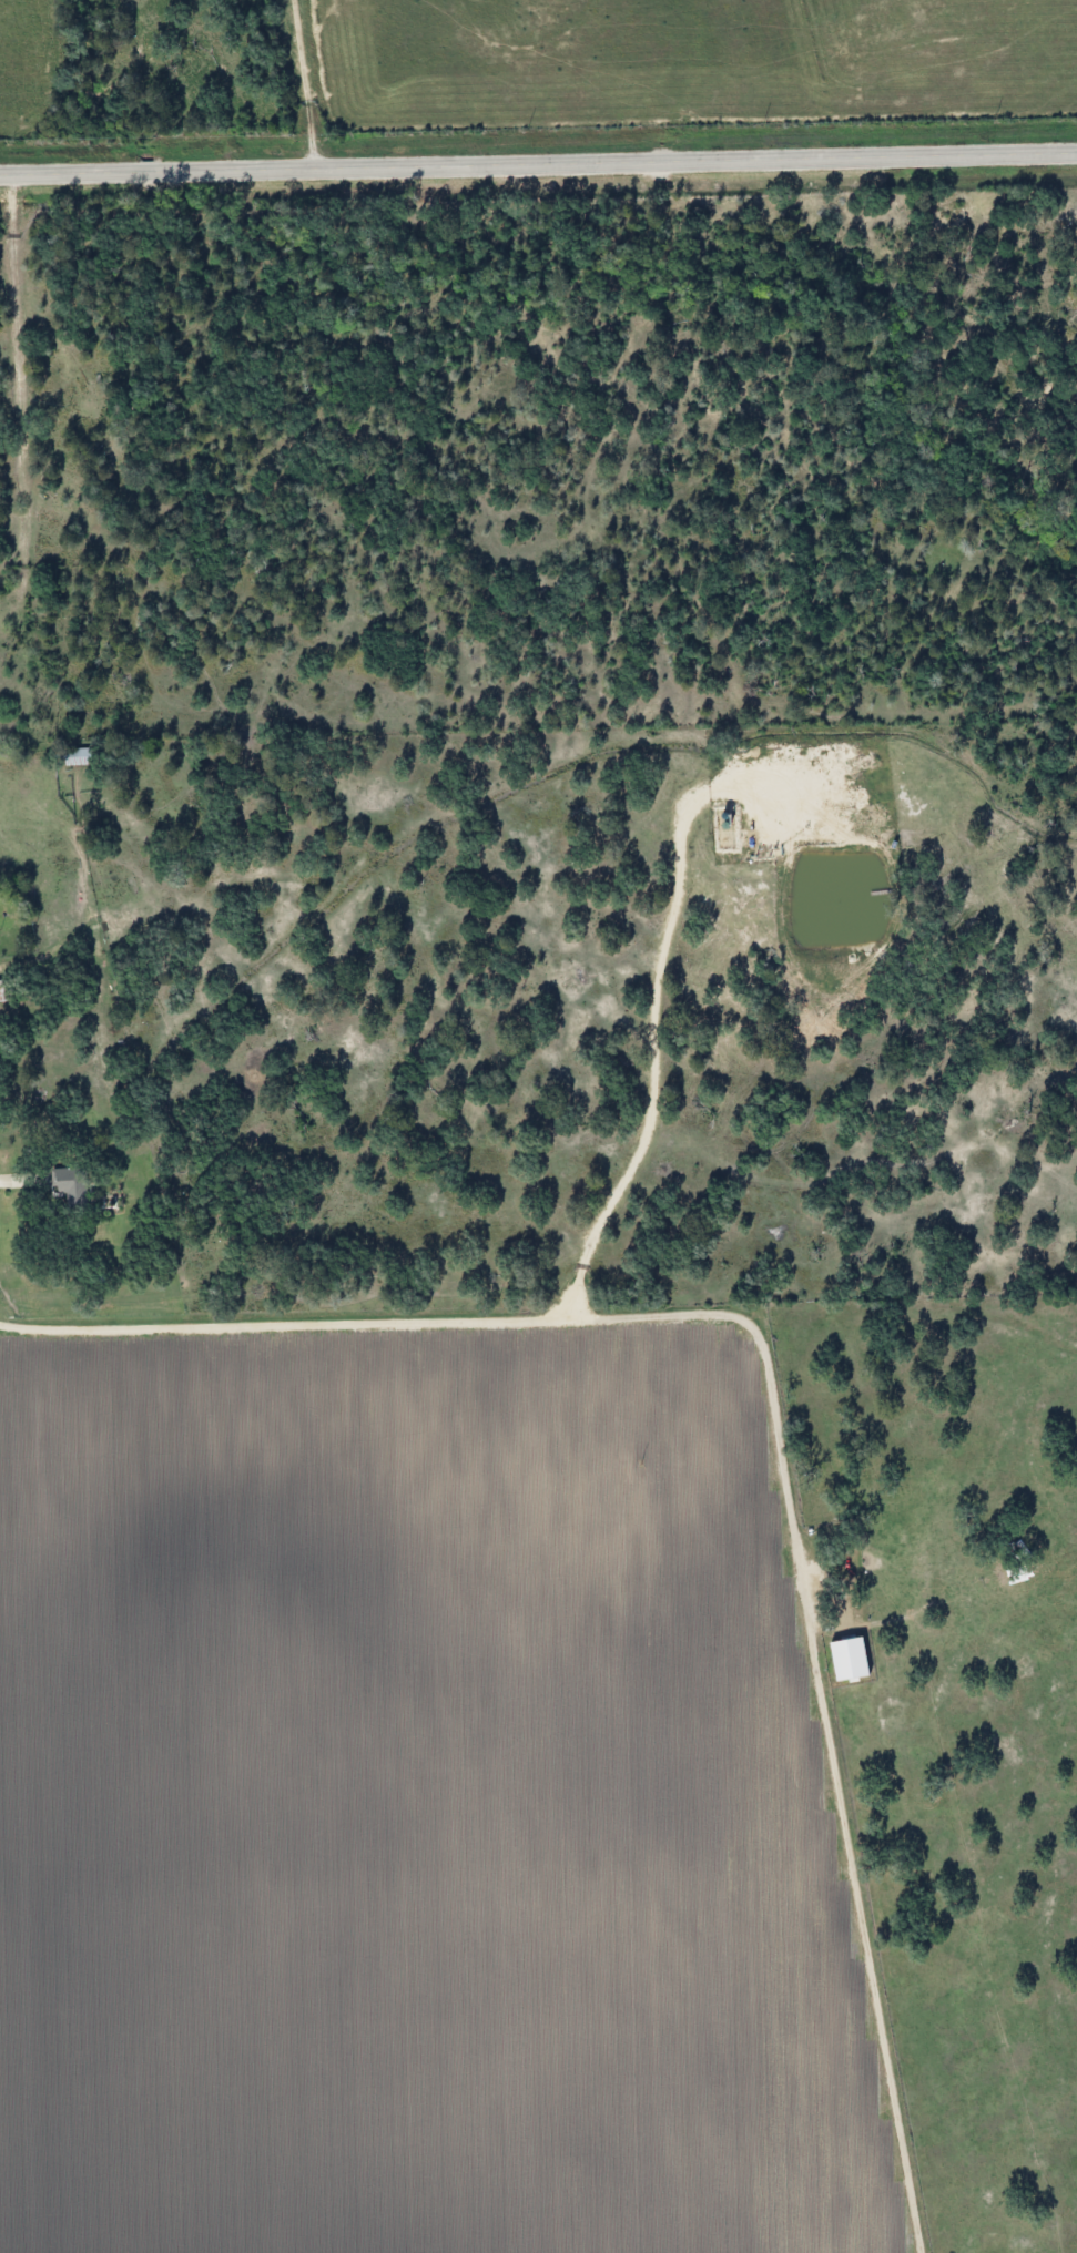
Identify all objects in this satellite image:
road: (238, 80)
road: (538, 164)
building: (69, 756)
building: (1, 991)
building: (65, 1186)
road: (748, 1423)
building: (987, 2241)

